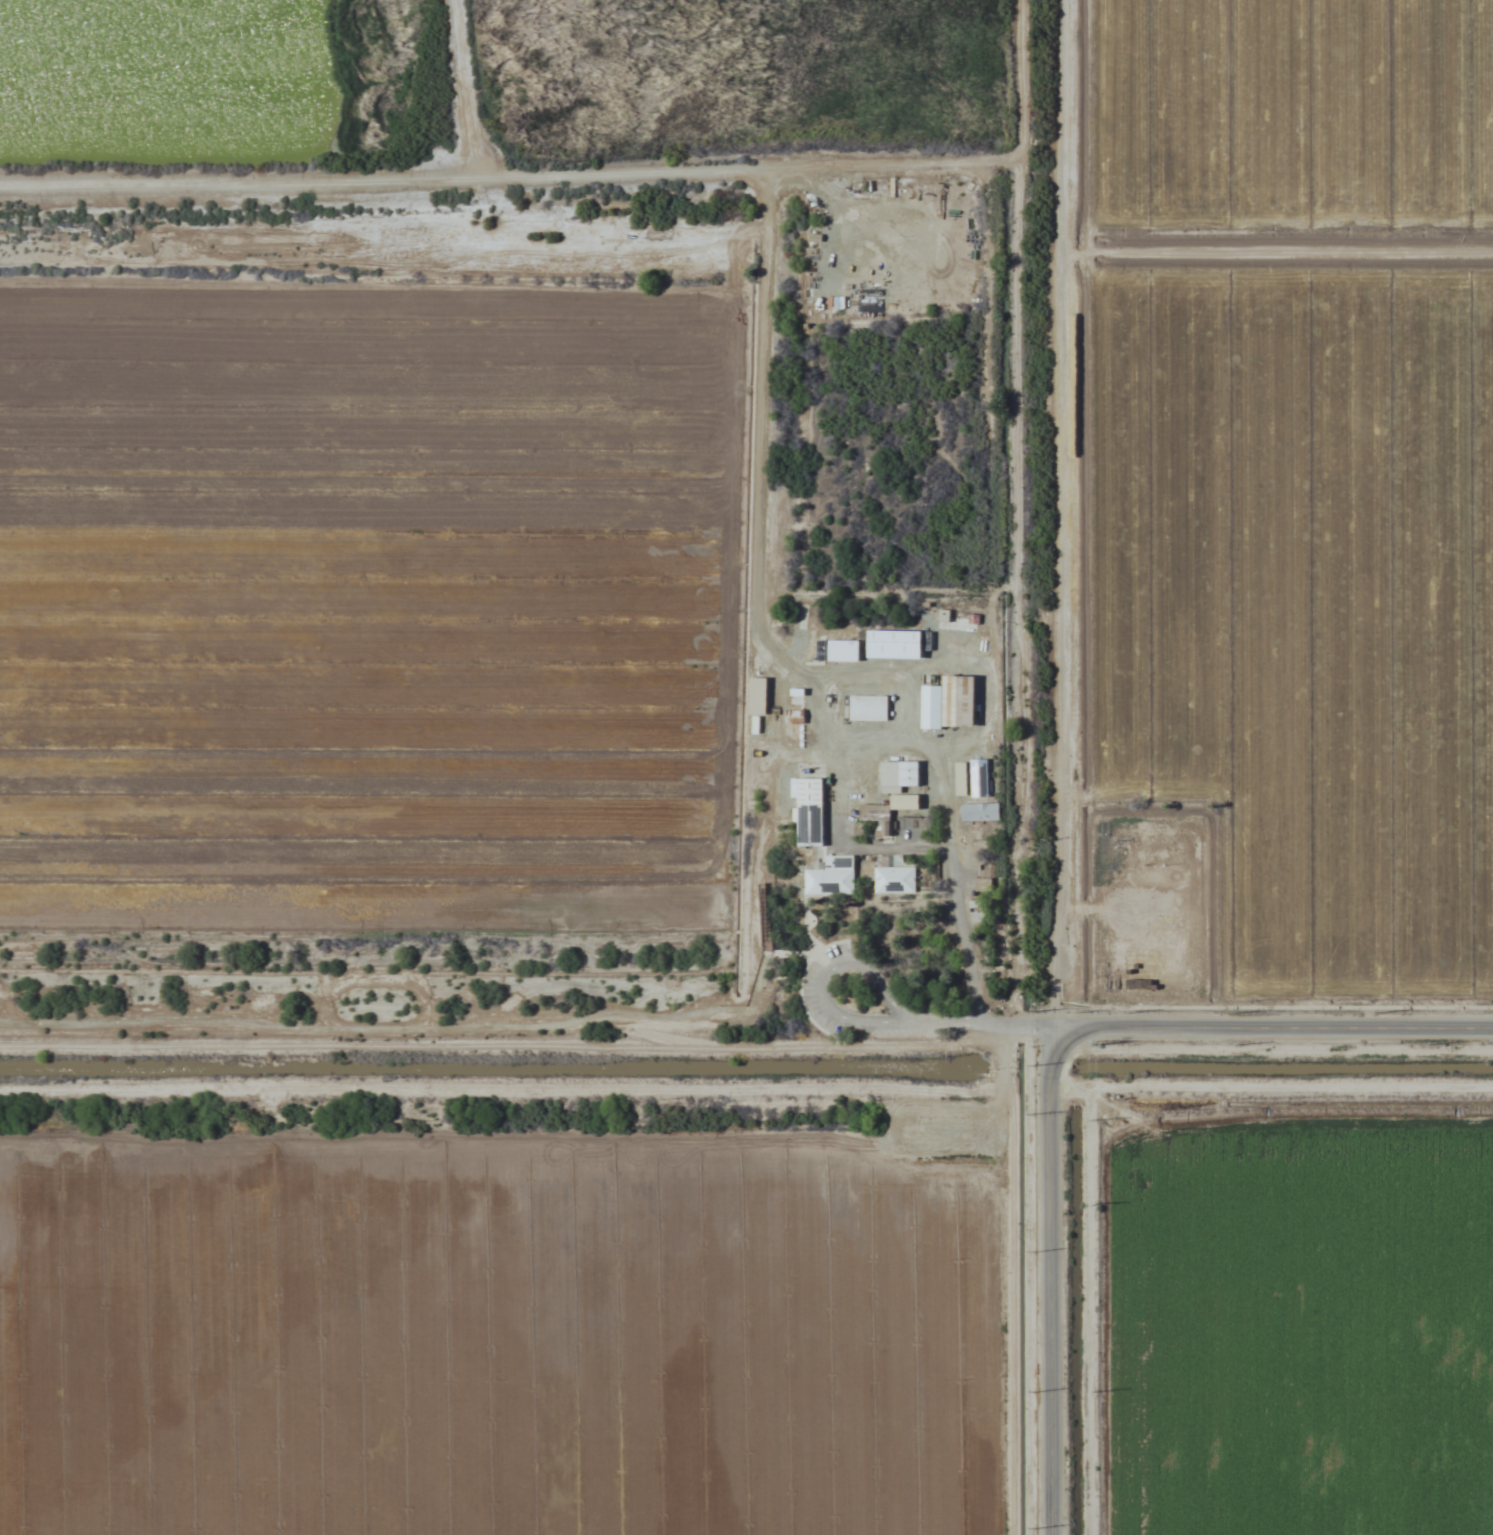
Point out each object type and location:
building: (932, 191)
road: (1051, 513)
building: (896, 643)
building: (844, 649)
building: (798, 691)
building: (758, 695)
building: (798, 700)
building: (950, 702)
building: (869, 707)
building: (795, 716)
building: (899, 775)
building: (979, 777)
building: (962, 778)
building: (810, 810)
building: (981, 811)
building: (878, 816)
road: (806, 873)
building: (832, 875)
building: (895, 879)
road: (803, 883)
road: (761, 886)
building: (979, 911)
road: (805, 926)
road: (790, 951)
road: (825, 976)
road: (800, 982)
parking lot: (890, 1005)
road: (405, 1022)
road: (980, 1023)
road: (1273, 1026)
road: (502, 1044)
road: (997, 1124)
parking lot: (946, 1128)
road: (1050, 1280)

